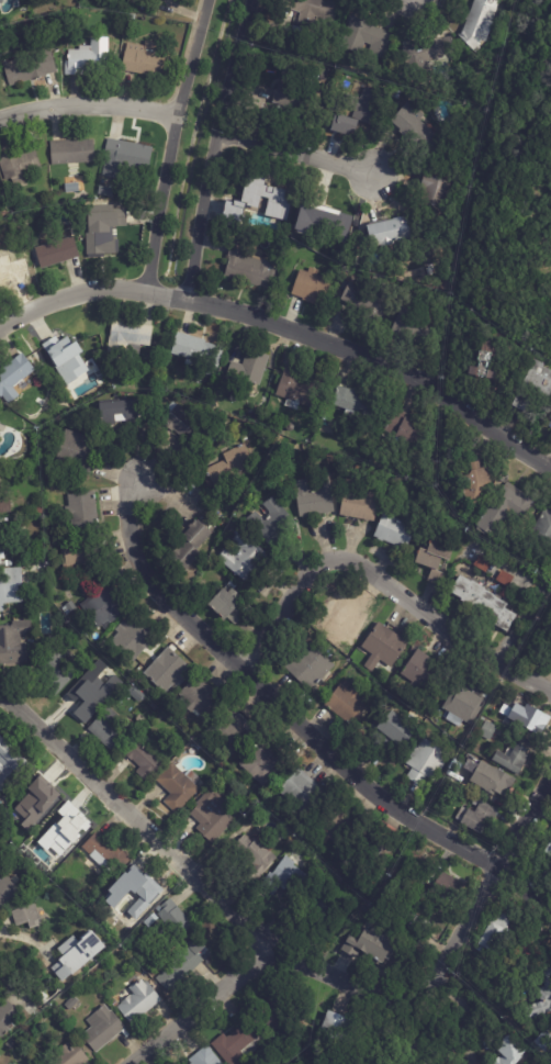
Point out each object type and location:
building: (1, 2)
building: (312, 9)
building: (132, 16)
building: (480, 23)
building: (296, 33)
building: (366, 36)
building: (426, 56)
building: (88, 58)
building: (145, 59)
building: (29, 67)
building: (317, 75)
building: (291, 97)
building: (397, 97)
road: (86, 107)
building: (368, 109)
building: (418, 133)
building: (550, 139)
road: (167, 144)
building: (549, 146)
road: (215, 148)
building: (72, 152)
road: (300, 152)
building: (130, 155)
building: (19, 165)
building: (71, 188)
building: (104, 192)
building: (263, 193)
building: (435, 201)
building: (236, 221)
building: (255, 225)
building: (324, 225)
building: (389, 233)
building: (105, 239)
building: (57, 253)
building: (355, 262)
building: (246, 266)
building: (9, 273)
building: (312, 288)
road: (89, 294)
building: (368, 302)
building: (413, 329)
building: (126, 338)
building: (157, 344)
building: (199, 352)
building: (71, 356)
road: (379, 360)
building: (488, 362)
building: (249, 369)
building: (13, 378)
building: (539, 380)
building: (300, 389)
building: (357, 403)
building: (522, 404)
building: (120, 414)
building: (184, 427)
building: (290, 427)
building: (407, 430)
building: (244, 438)
building: (77, 452)
building: (229, 468)
building: (266, 469)
building: (477, 484)
building: (314, 497)
building: (360, 502)
building: (4, 504)
building: (505, 509)
building: (82, 511)
building: (272, 523)
building: (395, 529)
building: (542, 531)
building: (3, 538)
building: (192, 547)
building: (79, 551)
building: (243, 558)
building: (435, 560)
building: (483, 564)
building: (505, 579)
building: (189, 582)
road: (383, 582)
building: (10, 585)
building: (525, 594)
building: (485, 603)
building: (227, 605)
building: (70, 606)
building: (104, 606)
building: (346, 624)
building: (133, 637)
building: (13, 641)
building: (383, 648)
building: (93, 652)
building: (310, 667)
building: (55, 669)
building: (167, 670)
building: (423, 672)
building: (136, 693)
building: (199, 695)
building: (83, 696)
building: (385, 703)
building: (347, 704)
building: (464, 704)
building: (160, 715)
building: (140, 718)
building: (531, 719)
road: (303, 724)
building: (110, 729)
building: (488, 731)
building: (228, 732)
building: (392, 736)
building: (198, 746)
building: (144, 758)
building: (513, 760)
building: (262, 762)
building: (426, 763)
building: (10, 764)
building: (457, 779)
building: (498, 784)
building: (178, 786)
building: (301, 791)
building: (37, 797)
building: (211, 817)
building: (480, 819)
building: (69, 825)
building: (336, 825)
road: (142, 826)
building: (386, 832)
building: (549, 850)
building: (105, 854)
building: (256, 855)
building: (364, 856)
building: (286, 877)
building: (447, 885)
building: (8, 891)
building: (133, 896)
building: (326, 911)
building: (299, 914)
building: (30, 919)
building: (413, 919)
building: (172, 922)
building: (497, 932)
building: (192, 938)
road: (29, 941)
building: (372, 945)
building: (76, 954)
building: (530, 959)
building: (178, 967)
road: (384, 996)
building: (542, 999)
building: (138, 1001)
building: (71, 1003)
building: (114, 1004)
building: (7, 1016)
building: (278, 1019)
building: (102, 1028)
building: (345, 1029)
building: (544, 1041)
building: (10, 1043)
building: (239, 1043)
building: (510, 1051)
building: (70, 1055)
building: (205, 1057)
building: (406, 1062)

